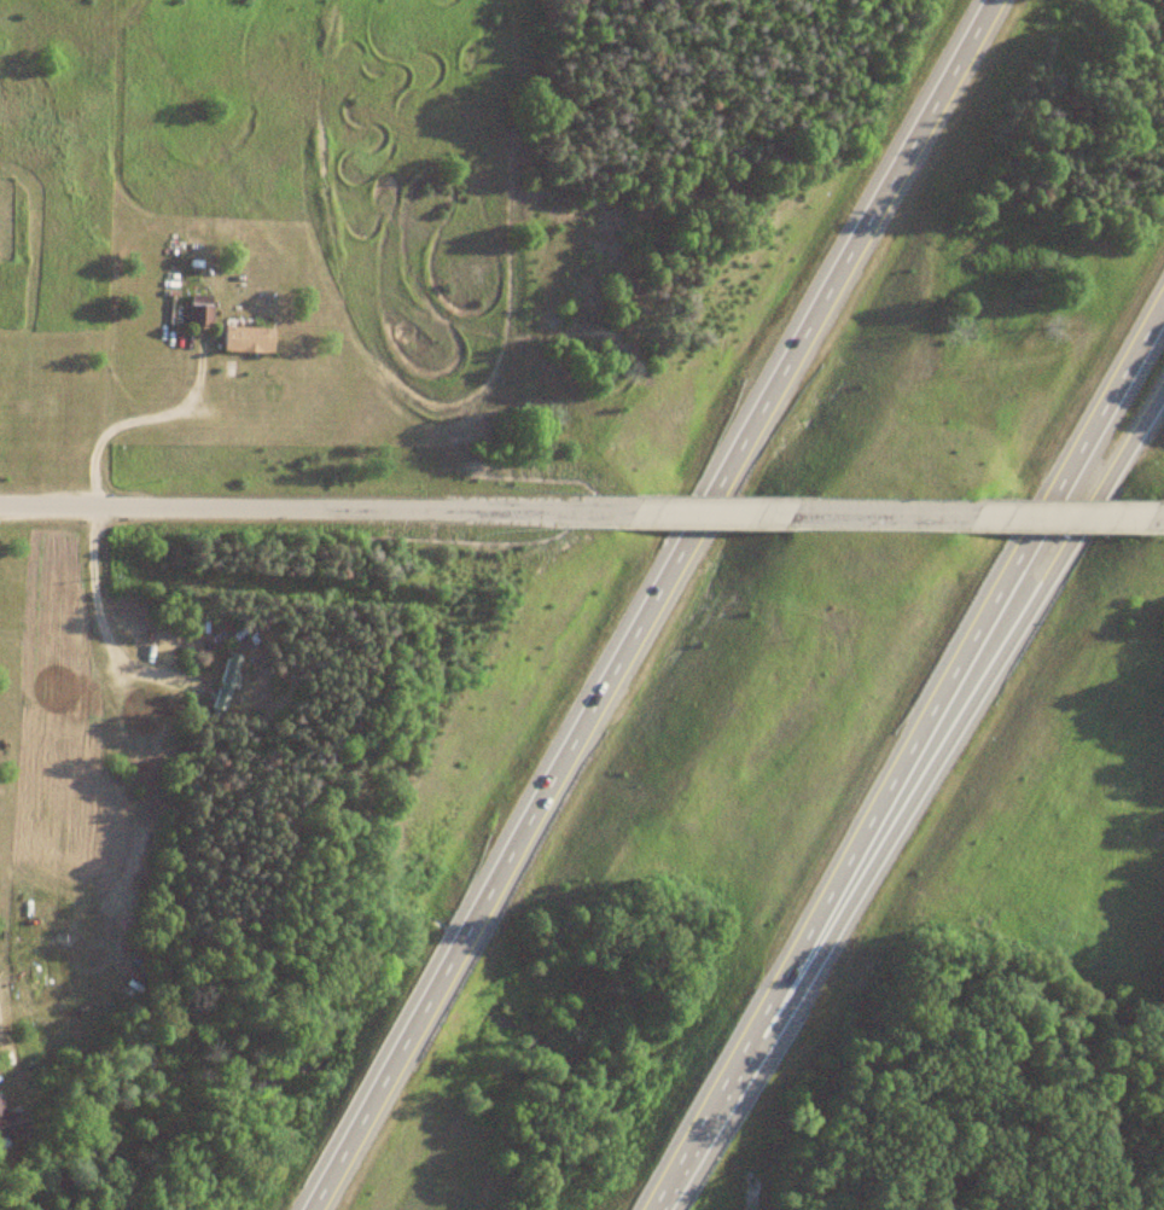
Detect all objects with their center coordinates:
building: (200, 312)
building: (248, 341)
road: (129, 418)
road: (292, 510)
road: (698, 512)
road: (891, 513)
road: (1058, 516)
road: (1154, 517)
road: (648, 604)
road: (105, 626)
building: (227, 683)
road: (904, 751)
road: (935, 761)
road: (0, 1020)
building: (11, 1123)

